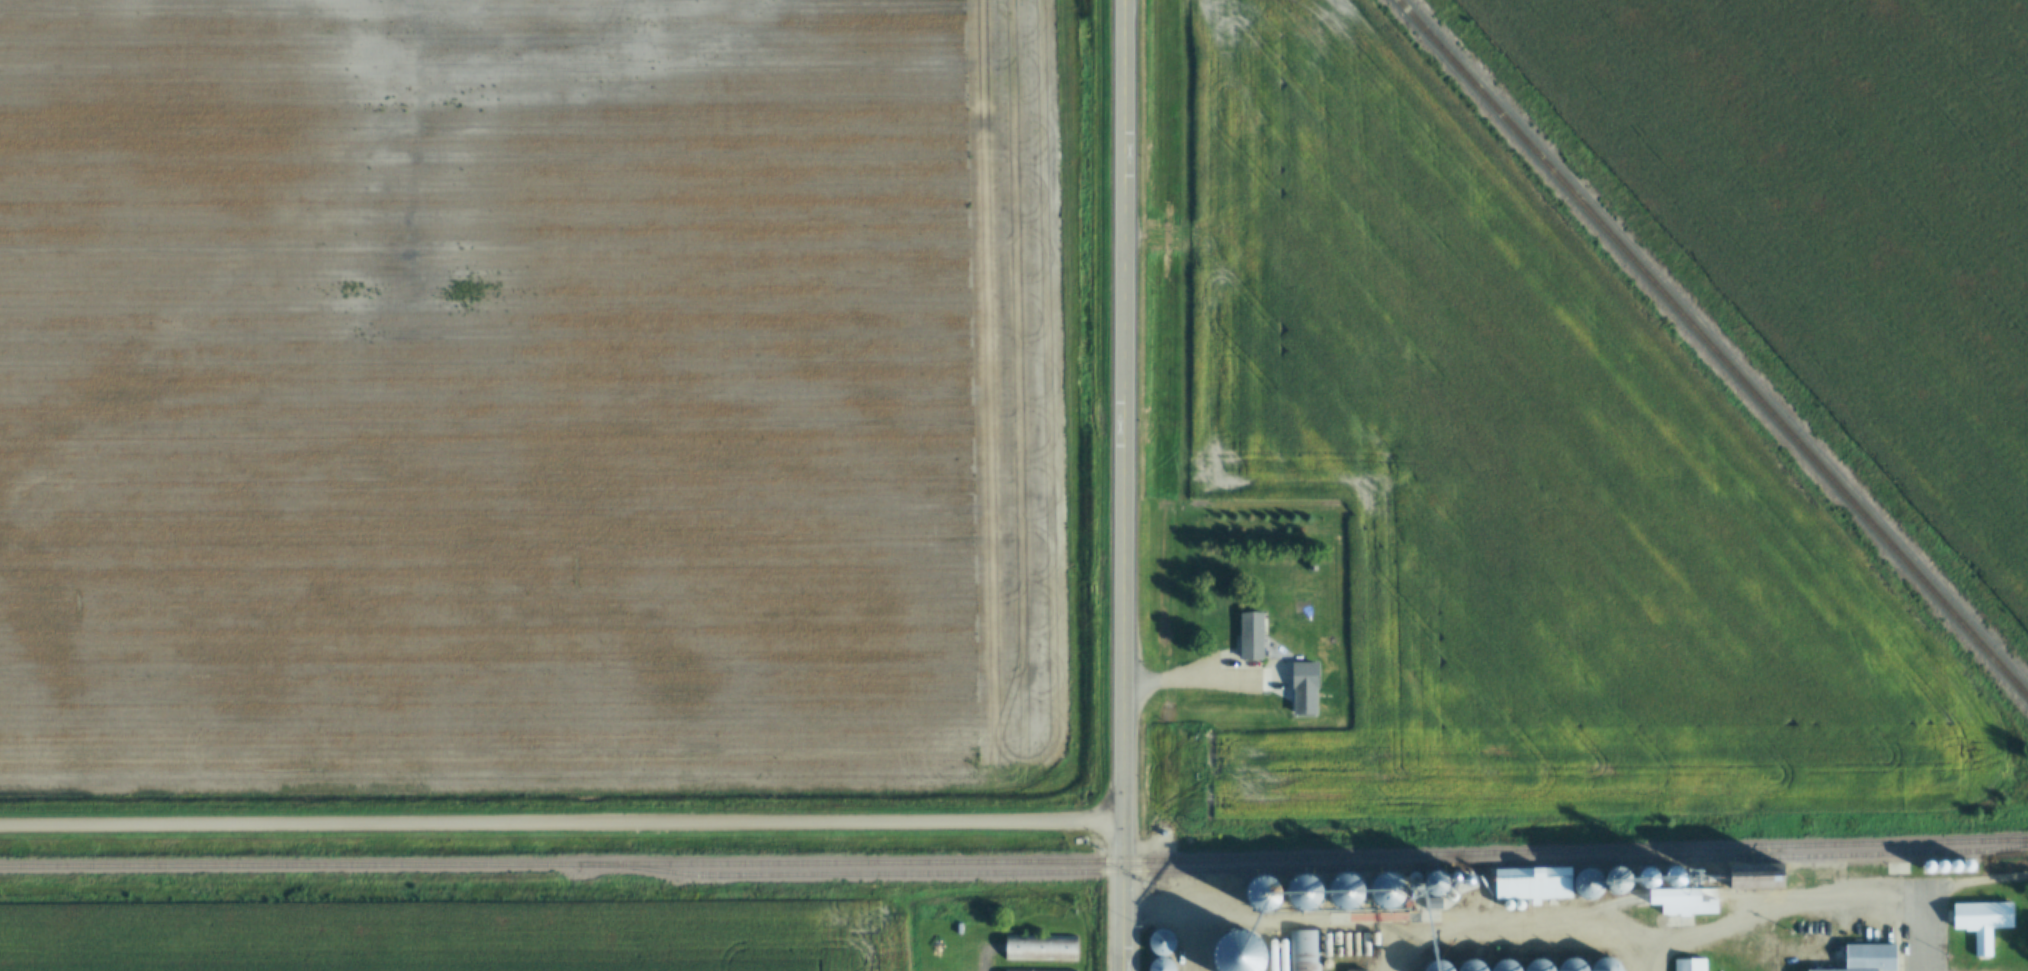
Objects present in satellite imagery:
road: (1121, 286)
railway: (1712, 348)
building: (1257, 636)
building: (1308, 674)
road: (1195, 680)
road: (1121, 696)
road: (561, 825)
railway: (1014, 861)
railway: (1310, 866)
building: (1941, 866)
silo: (1941, 866)
building: (1954, 866)
silo: (1954, 866)
building: (1967, 866)
silo: (1967, 866)
building: (1927, 867)
silo: (1927, 867)
building: (1781, 875)
building: (1478, 877)
silo: (1478, 877)
road: (1973, 880)
building: (1489, 882)
silo: (1489, 882)
building: (1624, 883)
silo: (1624, 883)
building: (1534, 884)
building: (1590, 884)
silo: (1590, 884)
building: (1435, 885)
silo: (1435, 885)
building: (1686, 885)
building: (1388, 891)
silo: (1388, 891)
building: (1346, 892)
silo: (1346, 892)
building: (1304, 893)
silo: (1304, 893)
building: (1264, 894)
silo: (1264, 894)
road: (1122, 895)
storage tank: (1512, 906)
storage tank: (1523, 906)
building: (1982, 922)
road: (1525, 929)
road: (1816, 934)
road: (1923, 934)
building: (1162, 942)
silo: (1162, 942)
road: (1387, 945)
building: (936, 947)
building: (1041, 948)
building: (1303, 950)
building: (1239, 953)
silo: (1239, 953)
road: (1648, 954)
building: (1874, 956)
building: (1692, 964)
building: (1161, 965)
silo: (1161, 965)
building: (1573, 965)
silo: (1573, 965)
building: (1606, 965)
silo: (1606, 965)
building: (1472, 966)
silo: (1472, 966)
building: (1505, 966)
silo: (1505, 966)
building: (1539, 966)
silo: (1539, 966)
building: (1438, 967)
silo: (1438, 967)
building: (935, 968)
silo: (935, 968)
building: (1037, 970)
building: (1355, 970)
building: (1858, 970)

